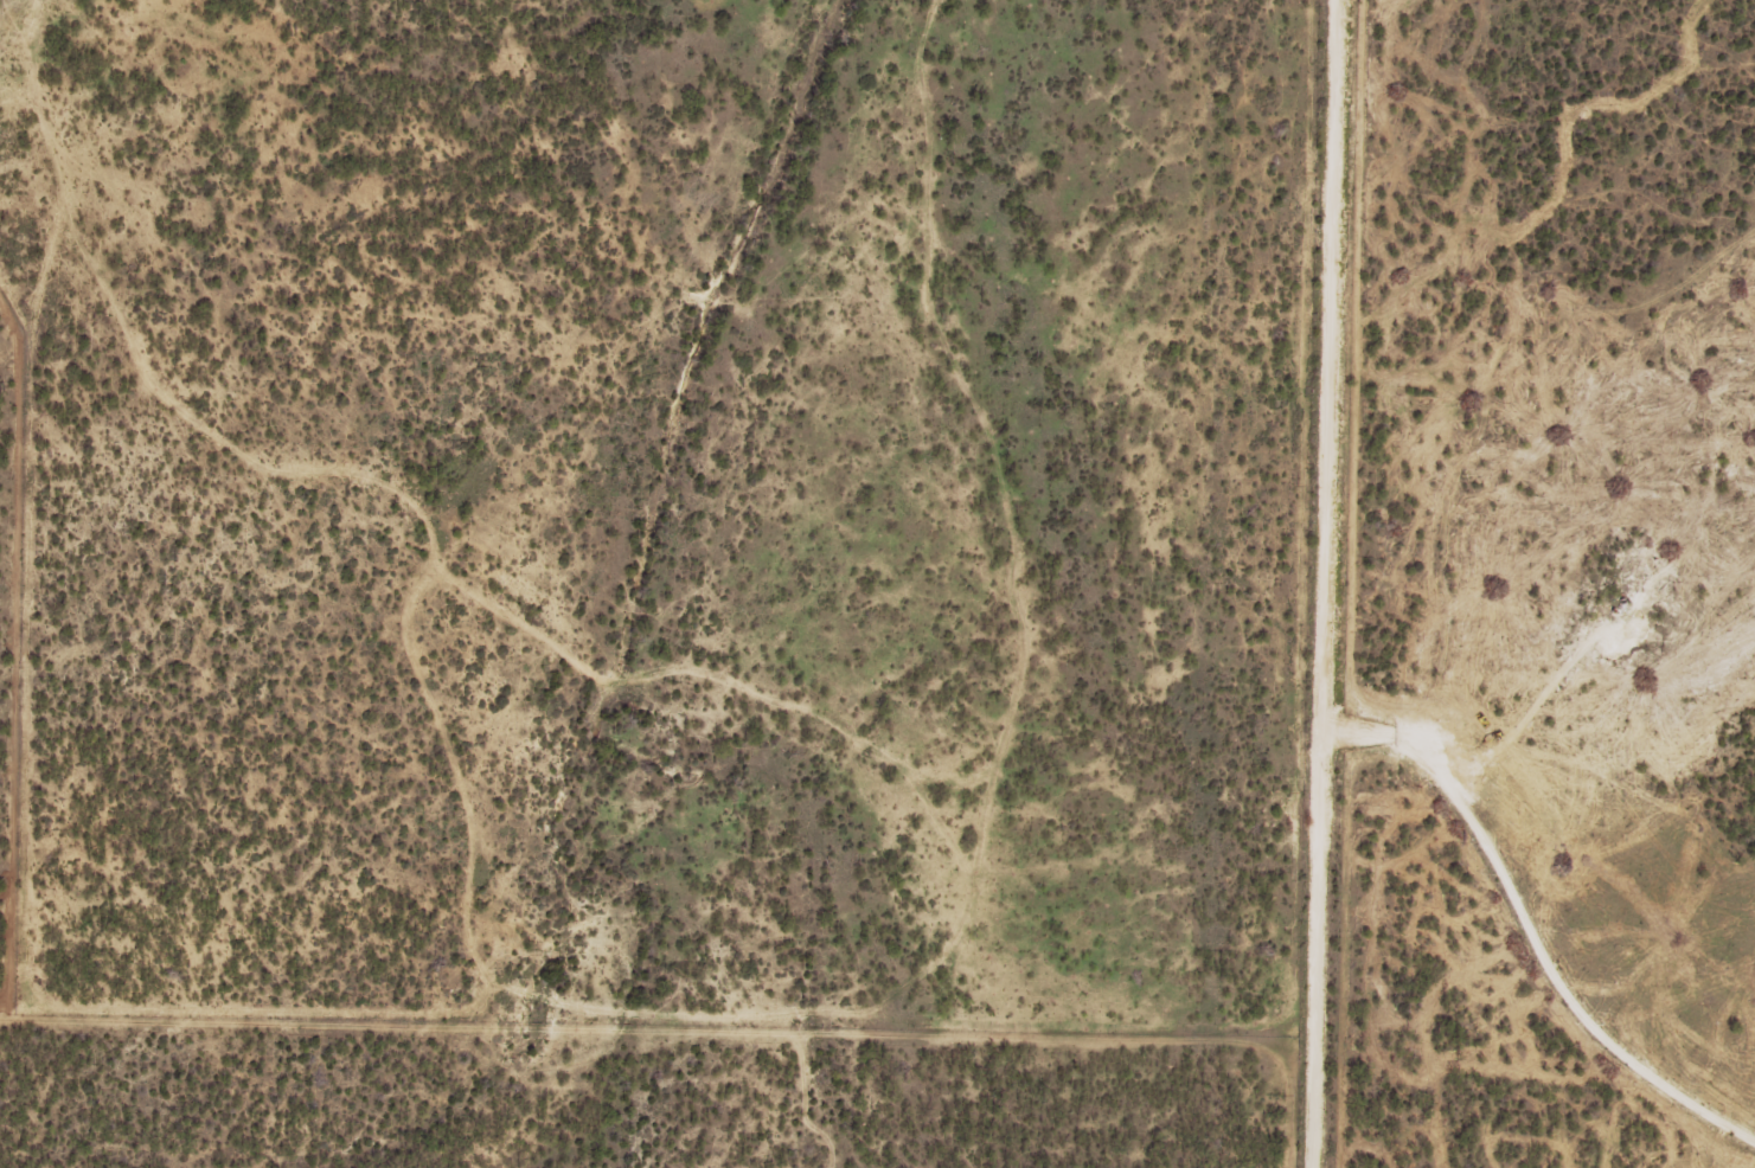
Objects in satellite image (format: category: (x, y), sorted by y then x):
road: (1325, 583)

